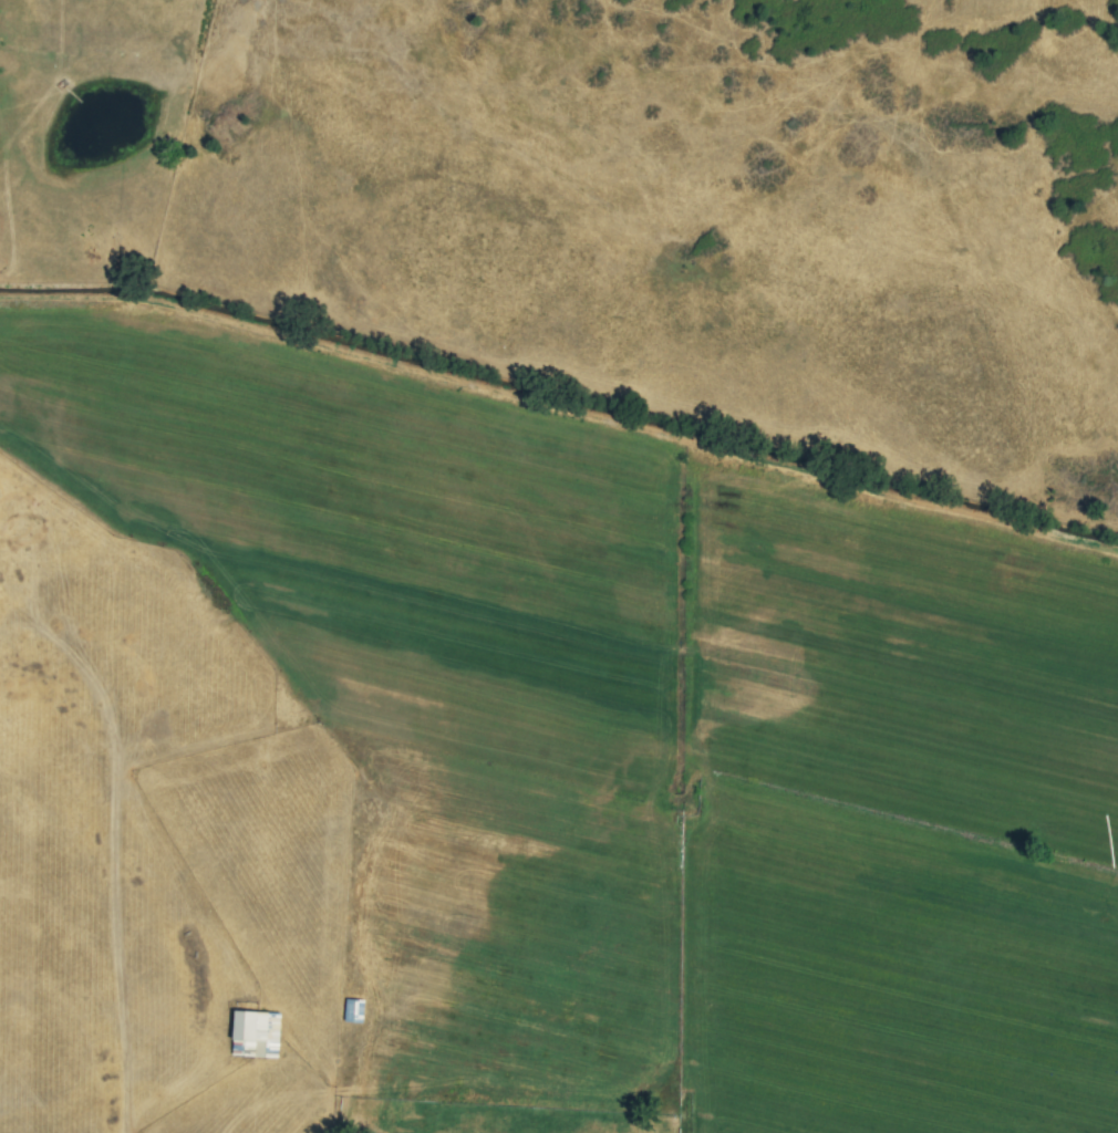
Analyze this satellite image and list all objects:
building: (353, 1010)
building: (255, 1035)

